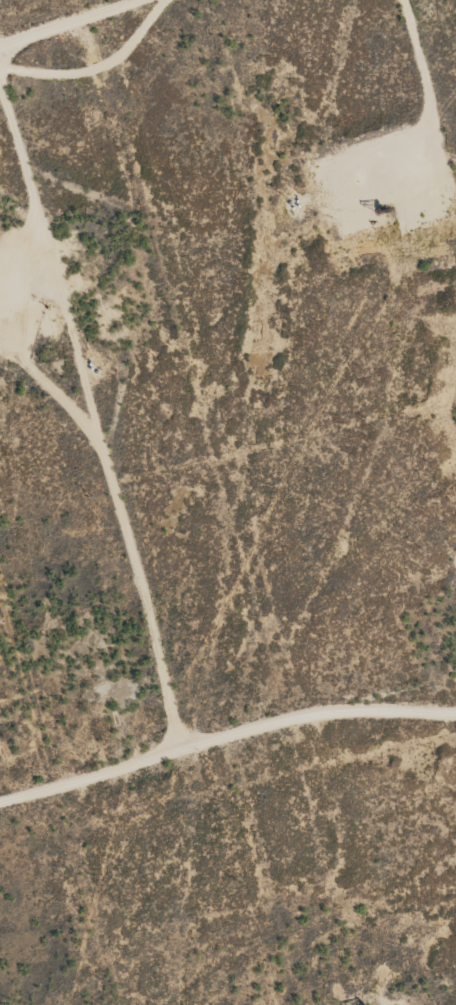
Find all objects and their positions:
road: (74, 25)
road: (95, 408)
road: (225, 738)

